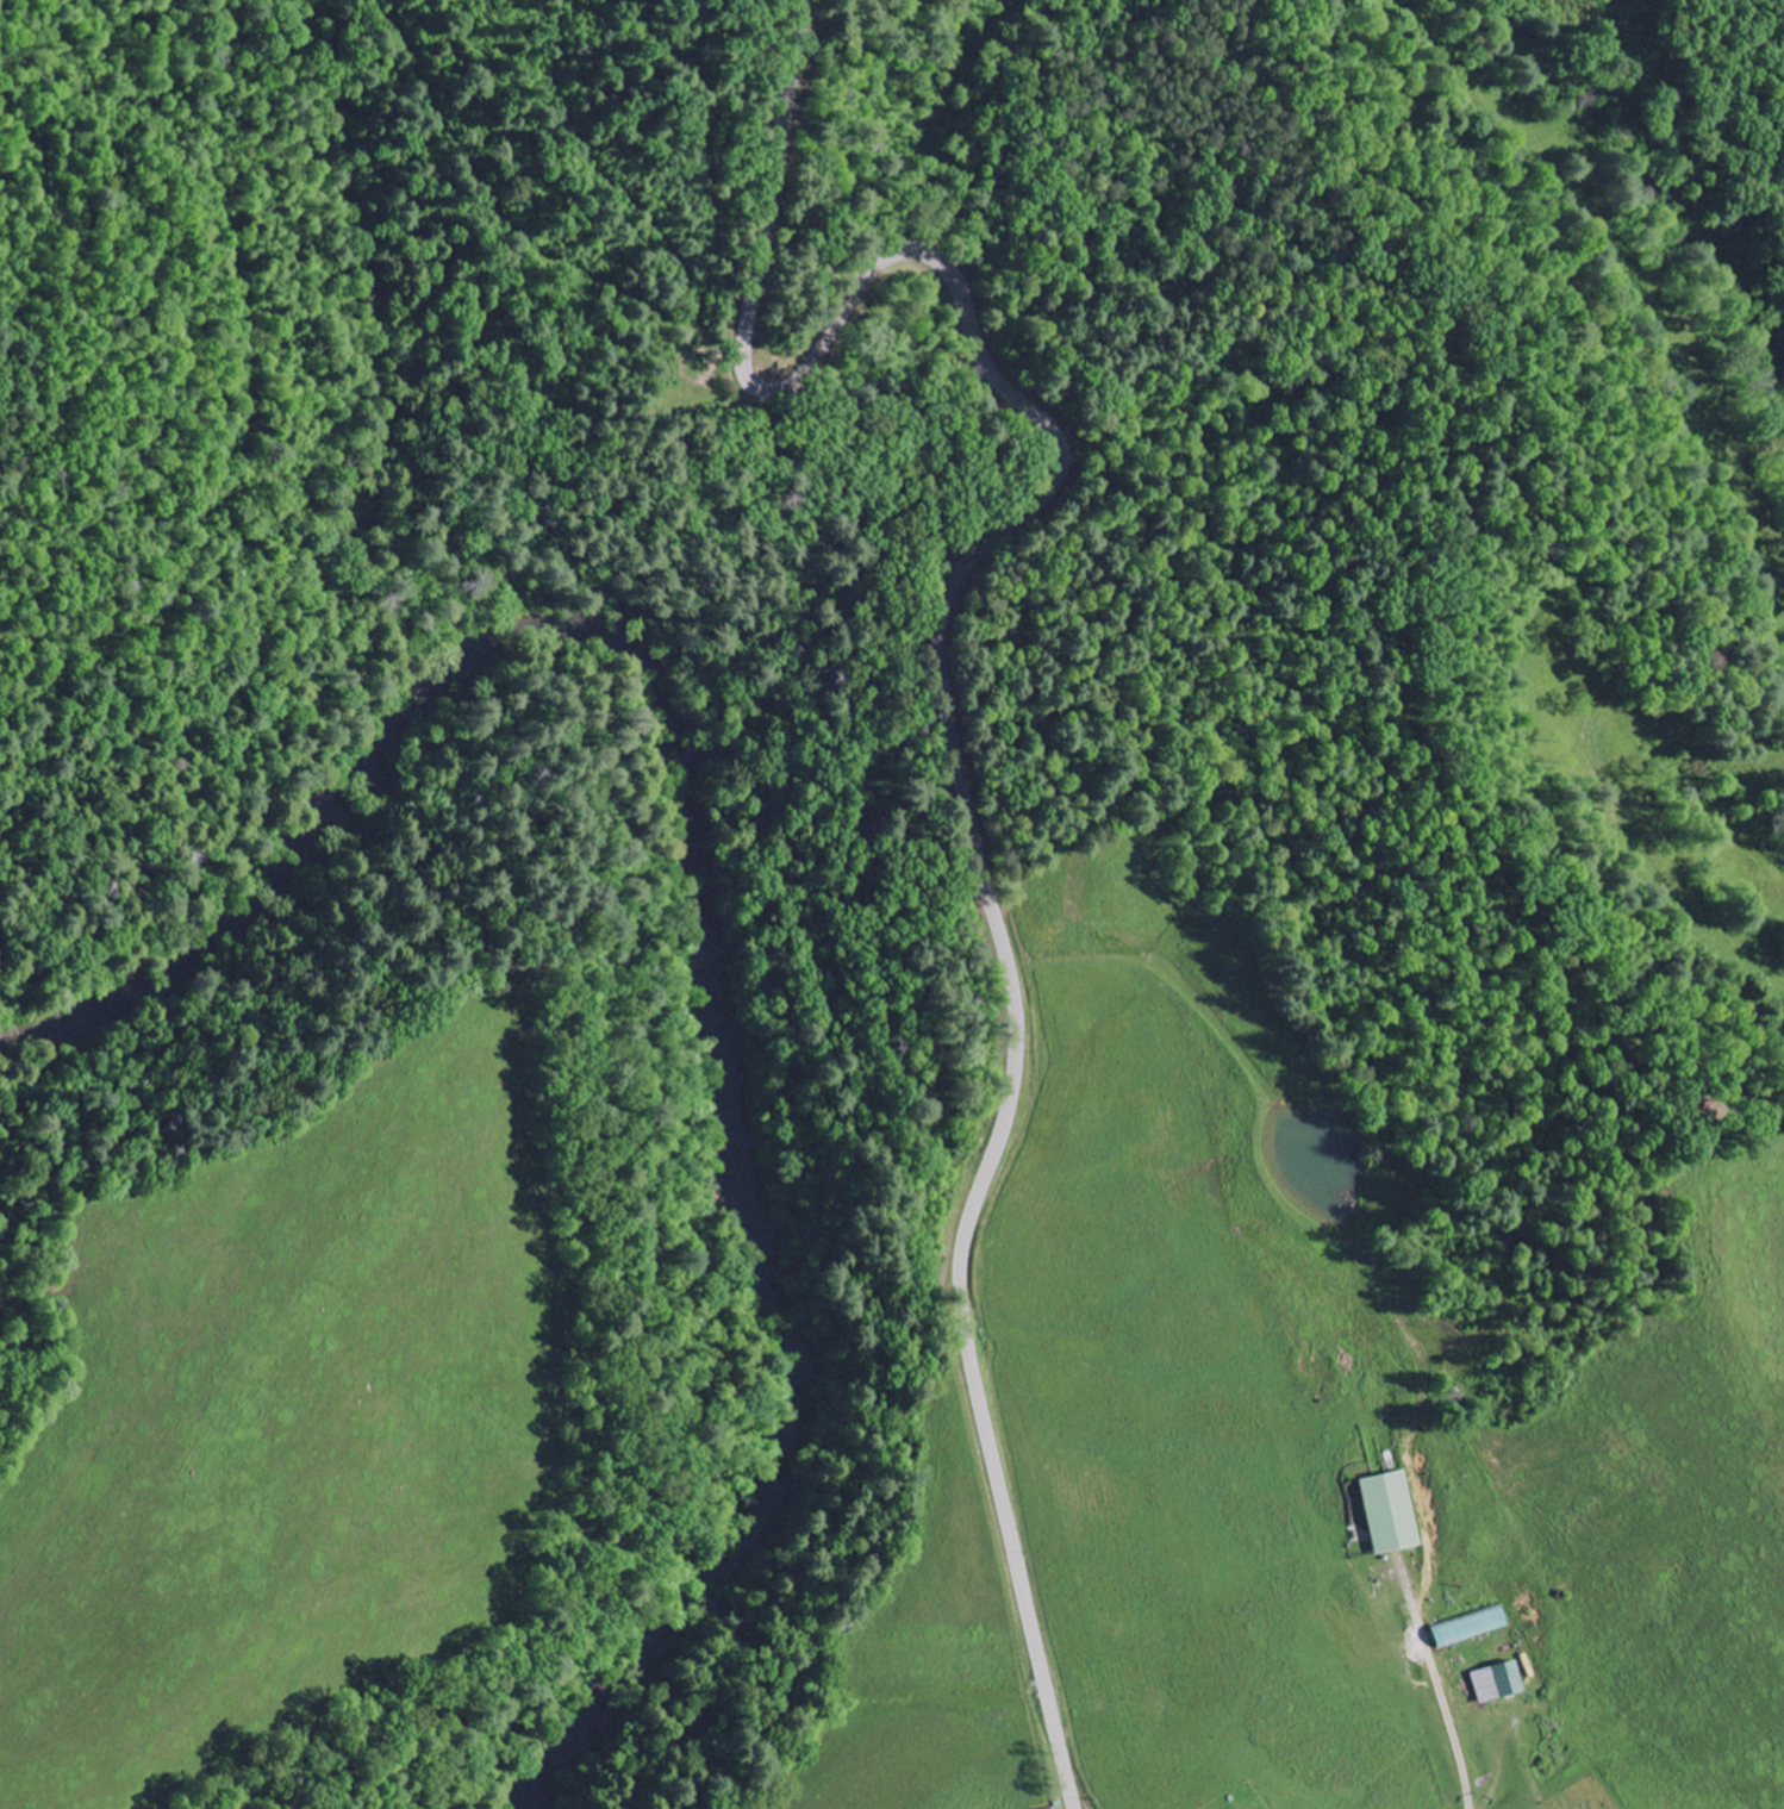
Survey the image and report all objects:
road: (938, 685)
river: (700, 873)
building: (1385, 1514)
building: (1490, 1684)
park: (1578, 1796)

